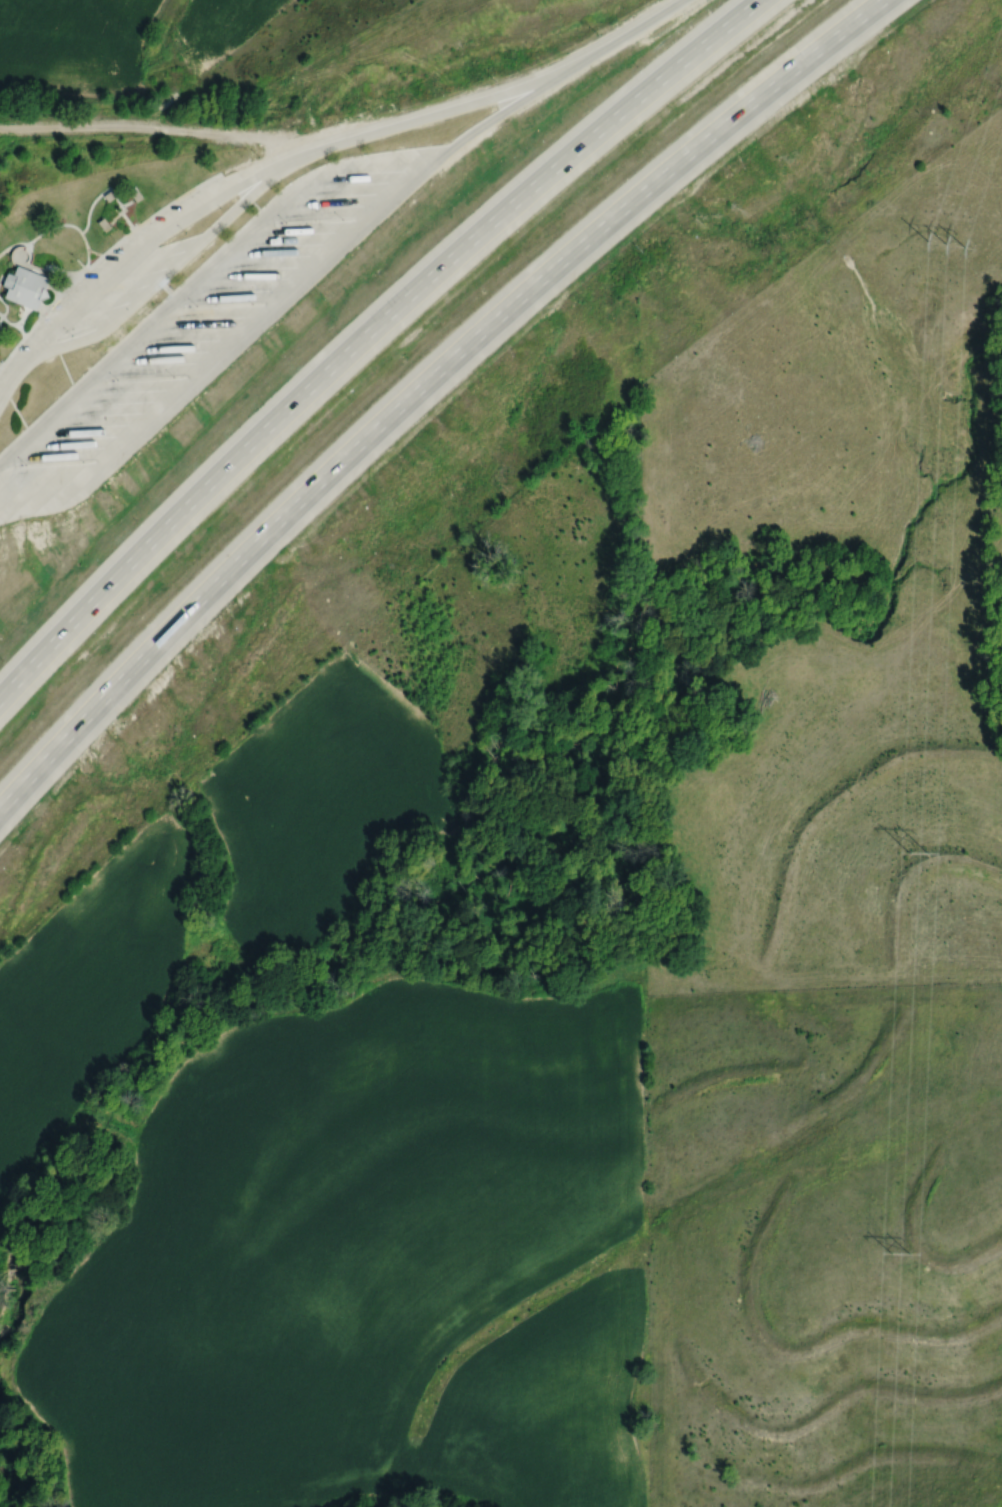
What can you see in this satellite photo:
road: (631, 30)
road: (513, 107)
road: (446, 109)
road: (156, 123)
road: (125, 202)
road: (119, 203)
road: (120, 212)
road: (56, 225)
road: (154, 237)
road: (12, 243)
power tower: (944, 250)
road: (162, 252)
road: (98, 256)
road: (87, 257)
road: (80, 263)
road: (50, 266)
road: (175, 269)
parking lot: (107, 272)
road: (203, 273)
building: (255, 273)
building: (21, 285)
road: (50, 286)
road: (38, 304)
road: (5, 307)
road: (23, 316)
road: (13, 323)
parking lot: (208, 324)
road: (364, 332)
road: (232, 352)
road: (14, 379)
road: (421, 384)
power tower: (918, 853)
power tower: (901, 1254)

